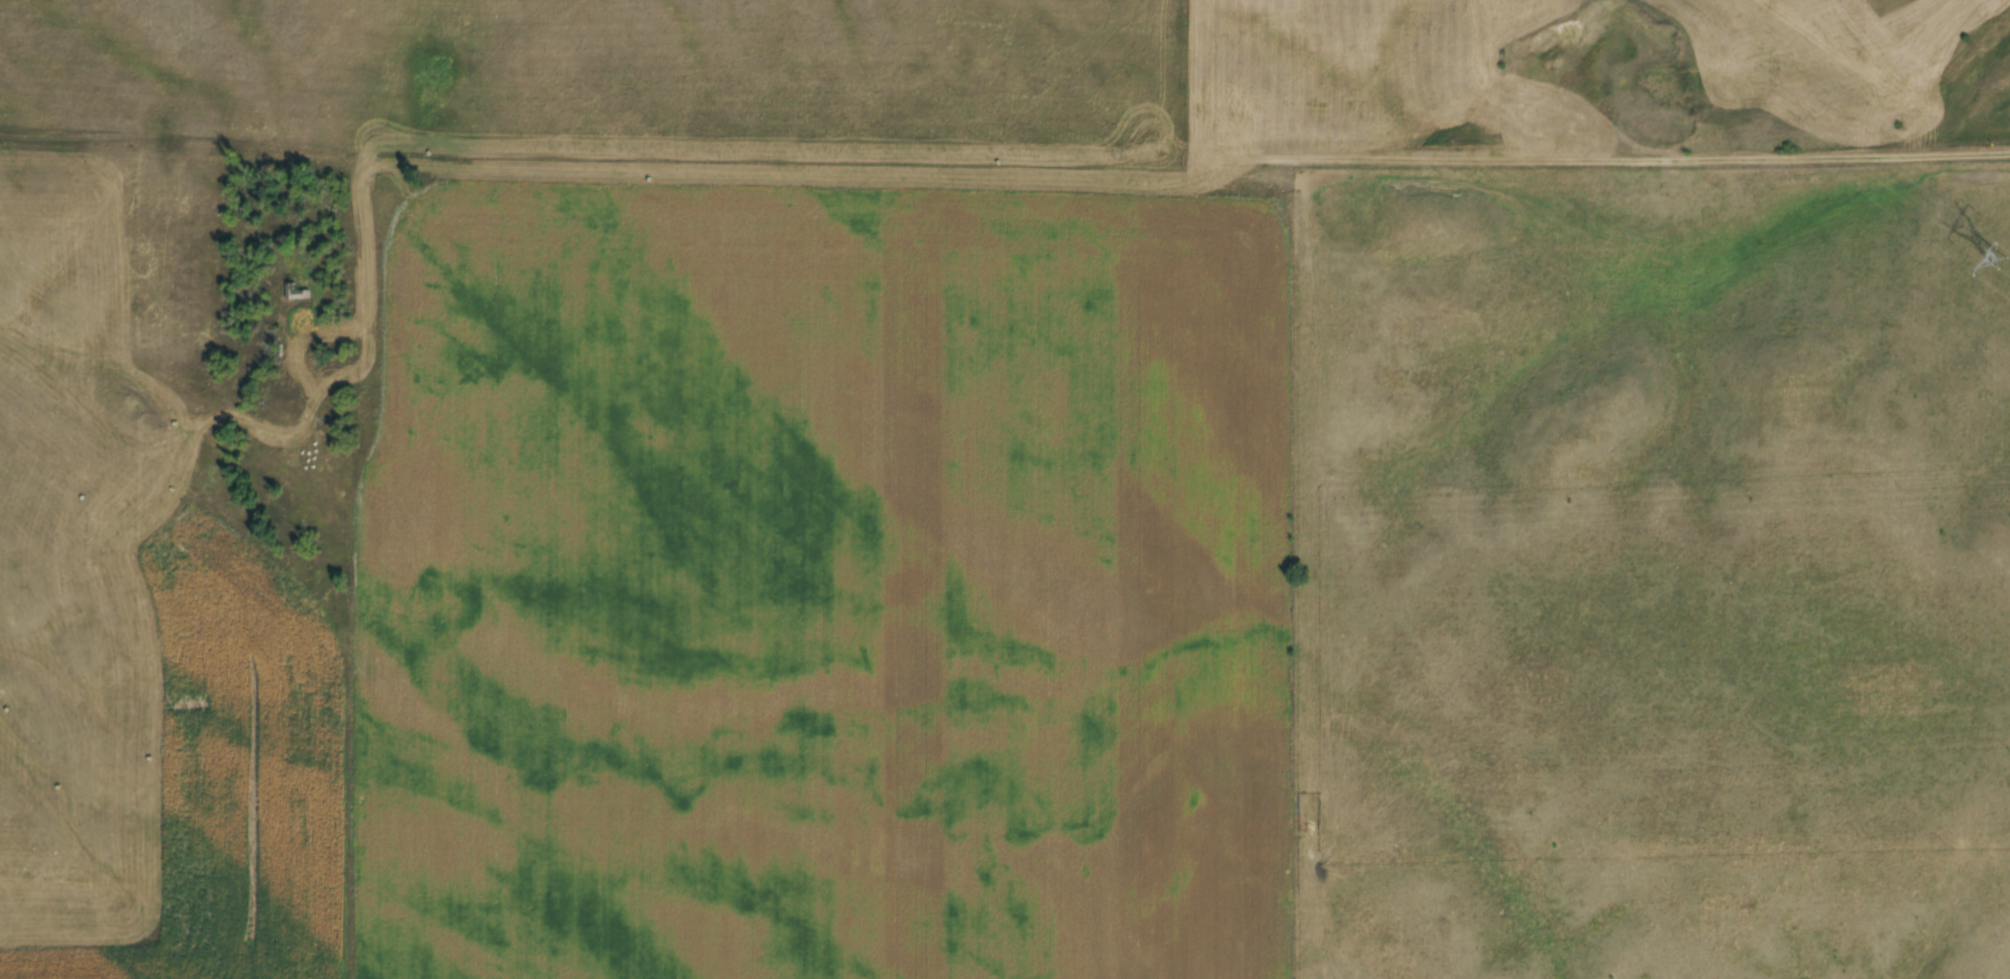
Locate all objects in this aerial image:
power tower: (1994, 276)

